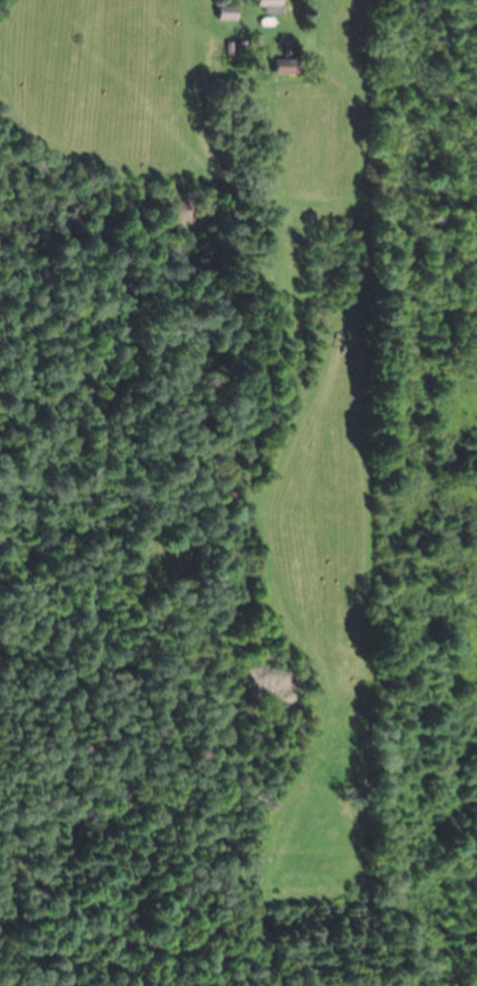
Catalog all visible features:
building: (266, 6)
building: (225, 14)

